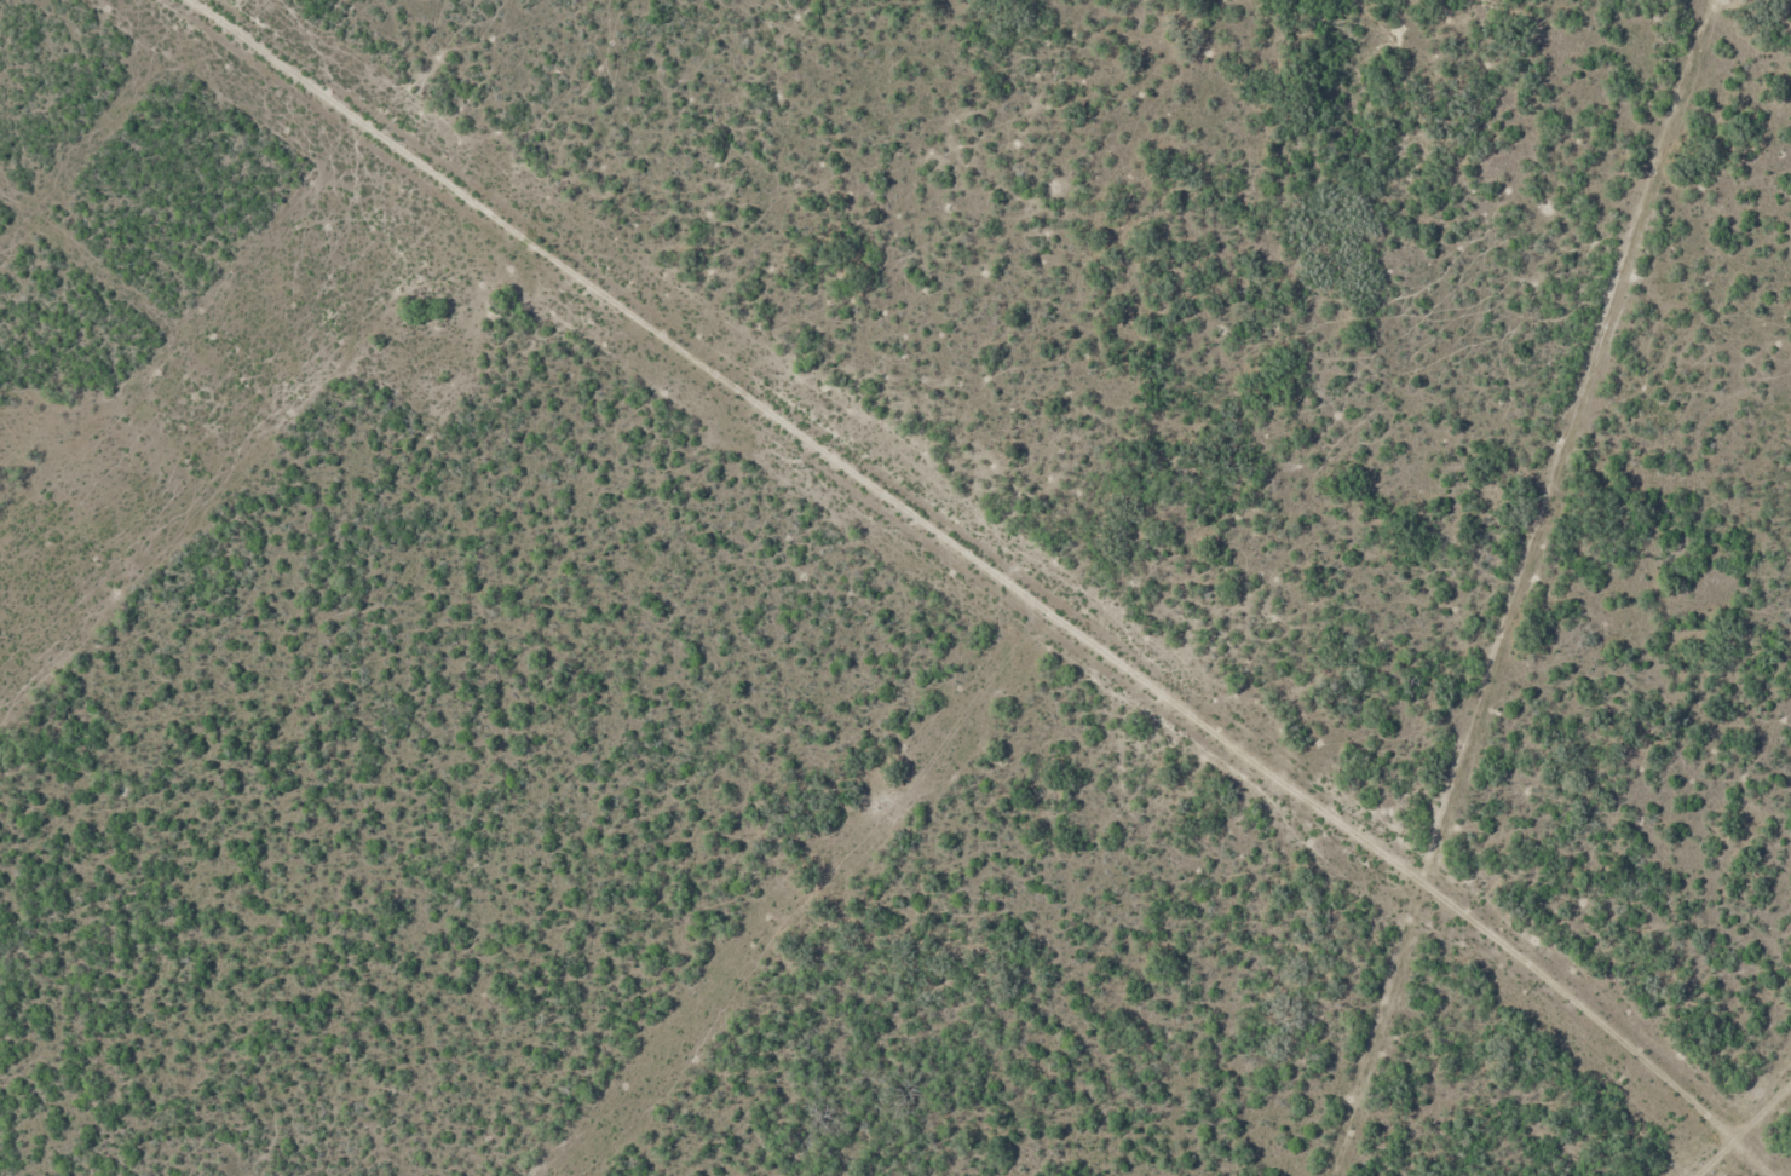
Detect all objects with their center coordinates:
road: (989, 594)

